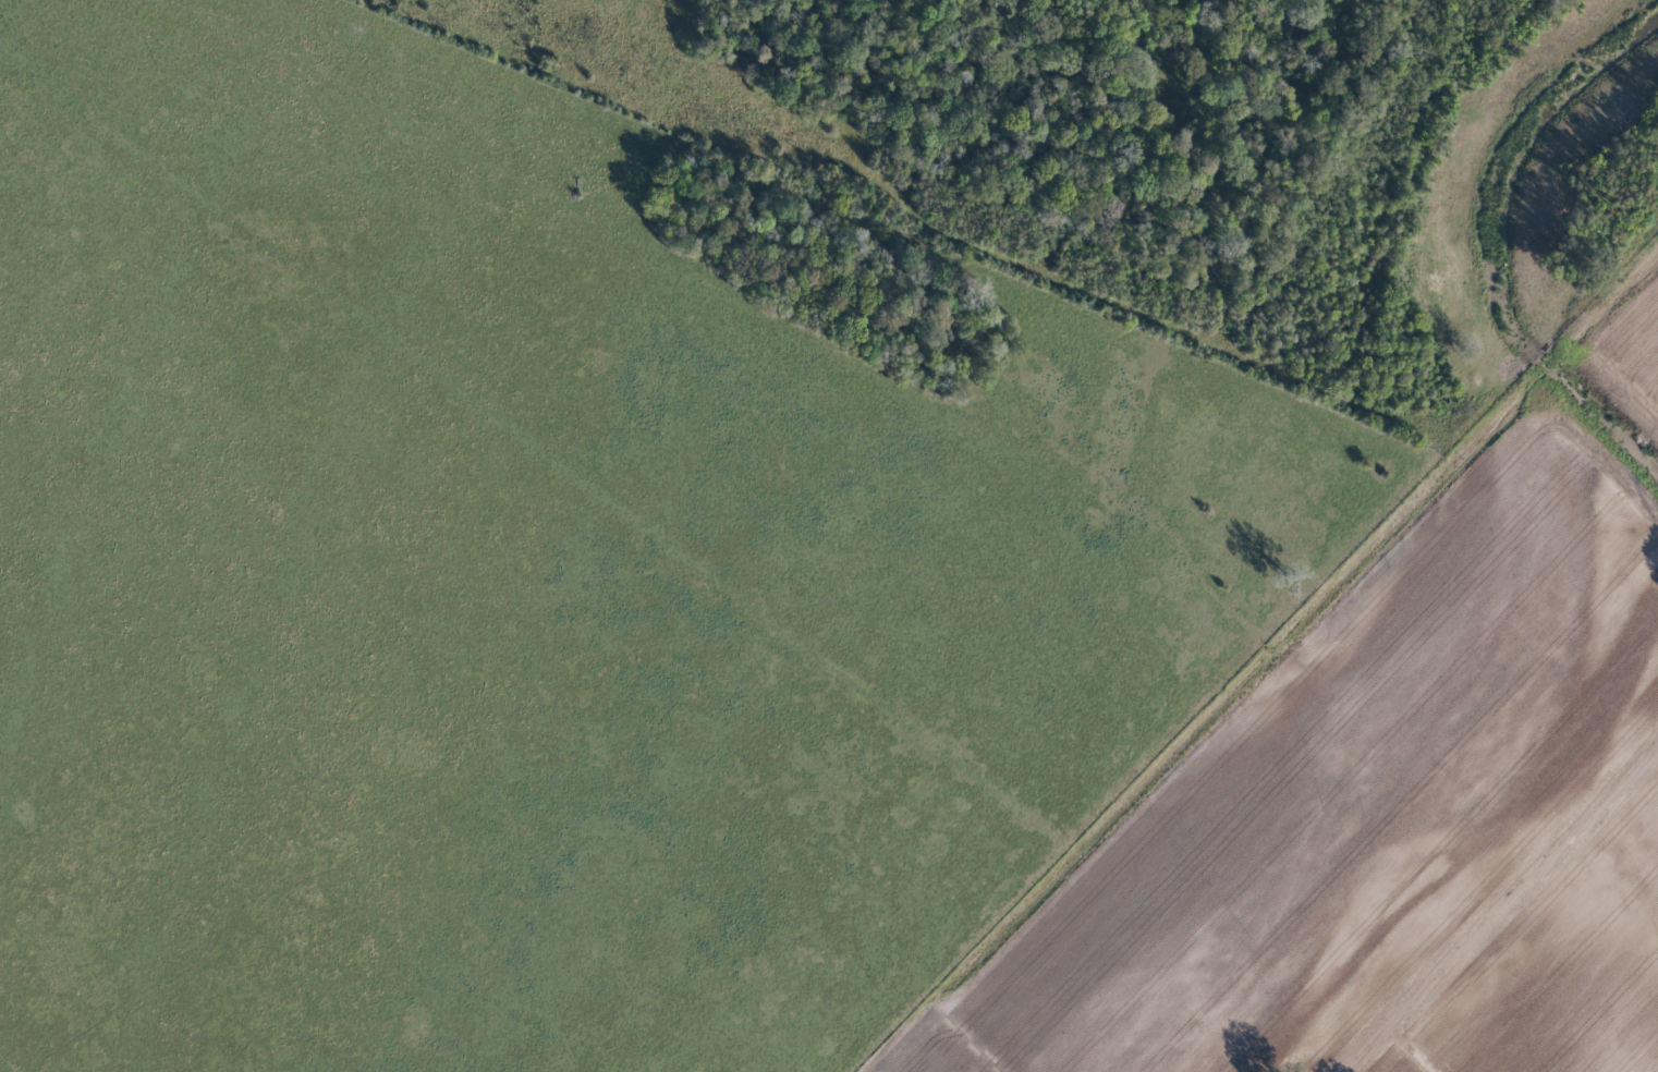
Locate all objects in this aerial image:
road: (1578, 1004)

